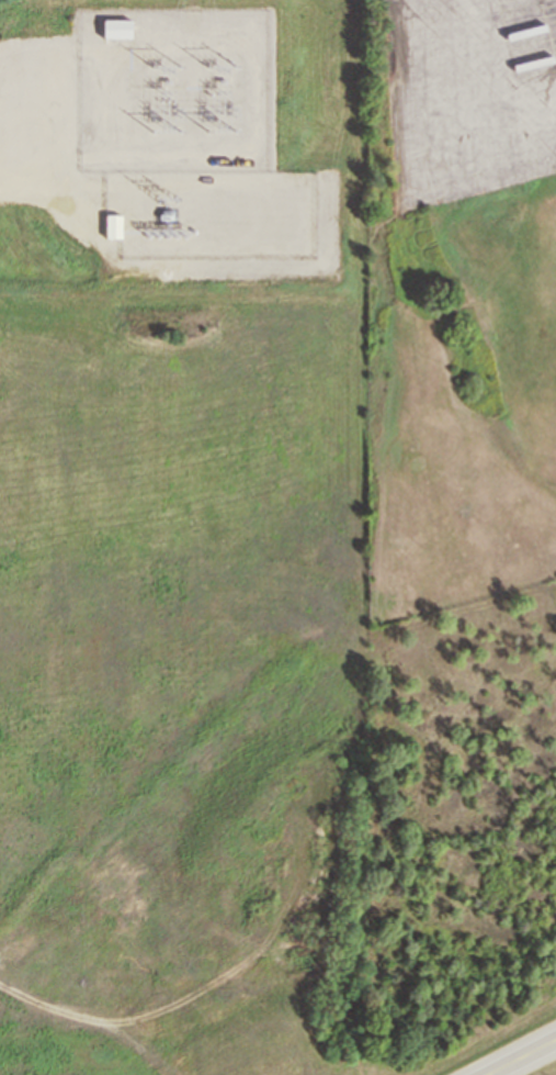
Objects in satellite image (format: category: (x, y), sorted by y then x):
building: (117, 30)
building: (121, 226)
road: (548, 1044)
road: (548, 1051)
road: (515, 1062)

